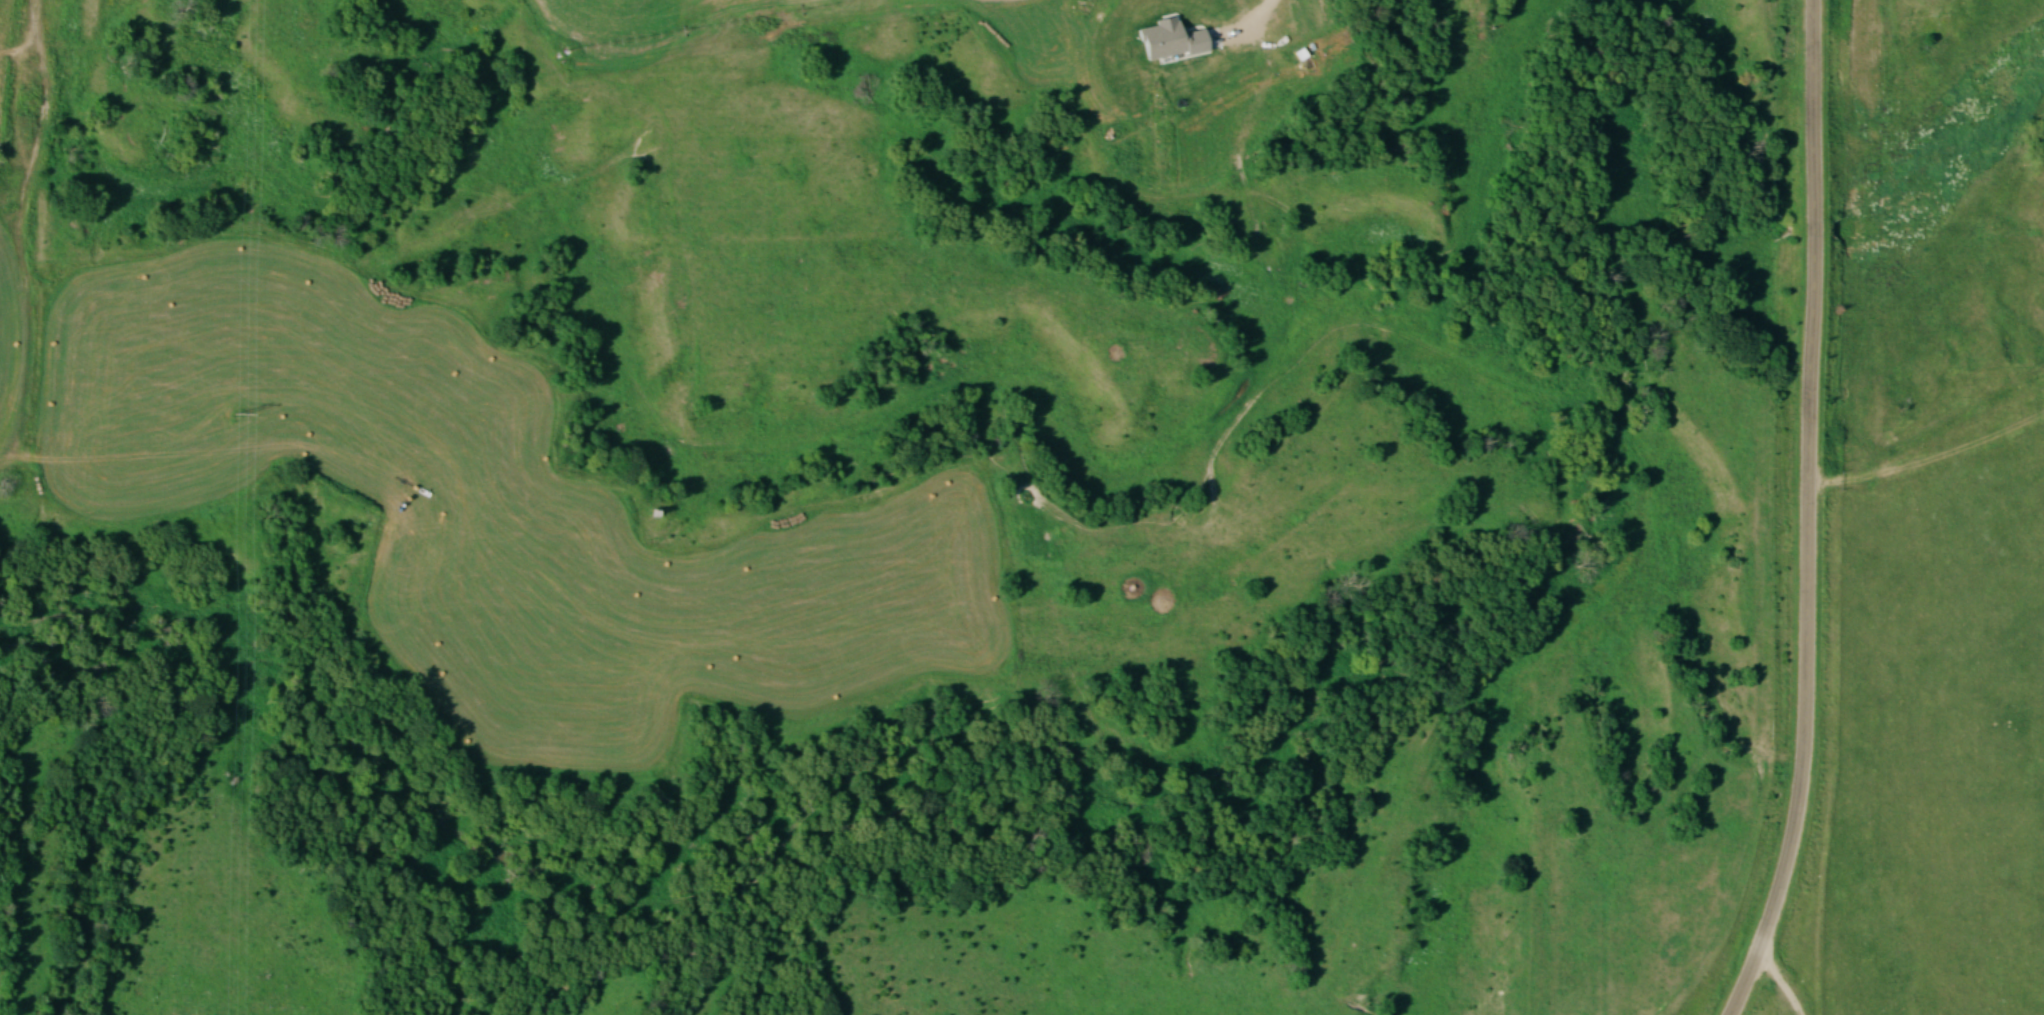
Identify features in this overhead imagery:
power tower: (241, 416)
road: (1806, 513)

